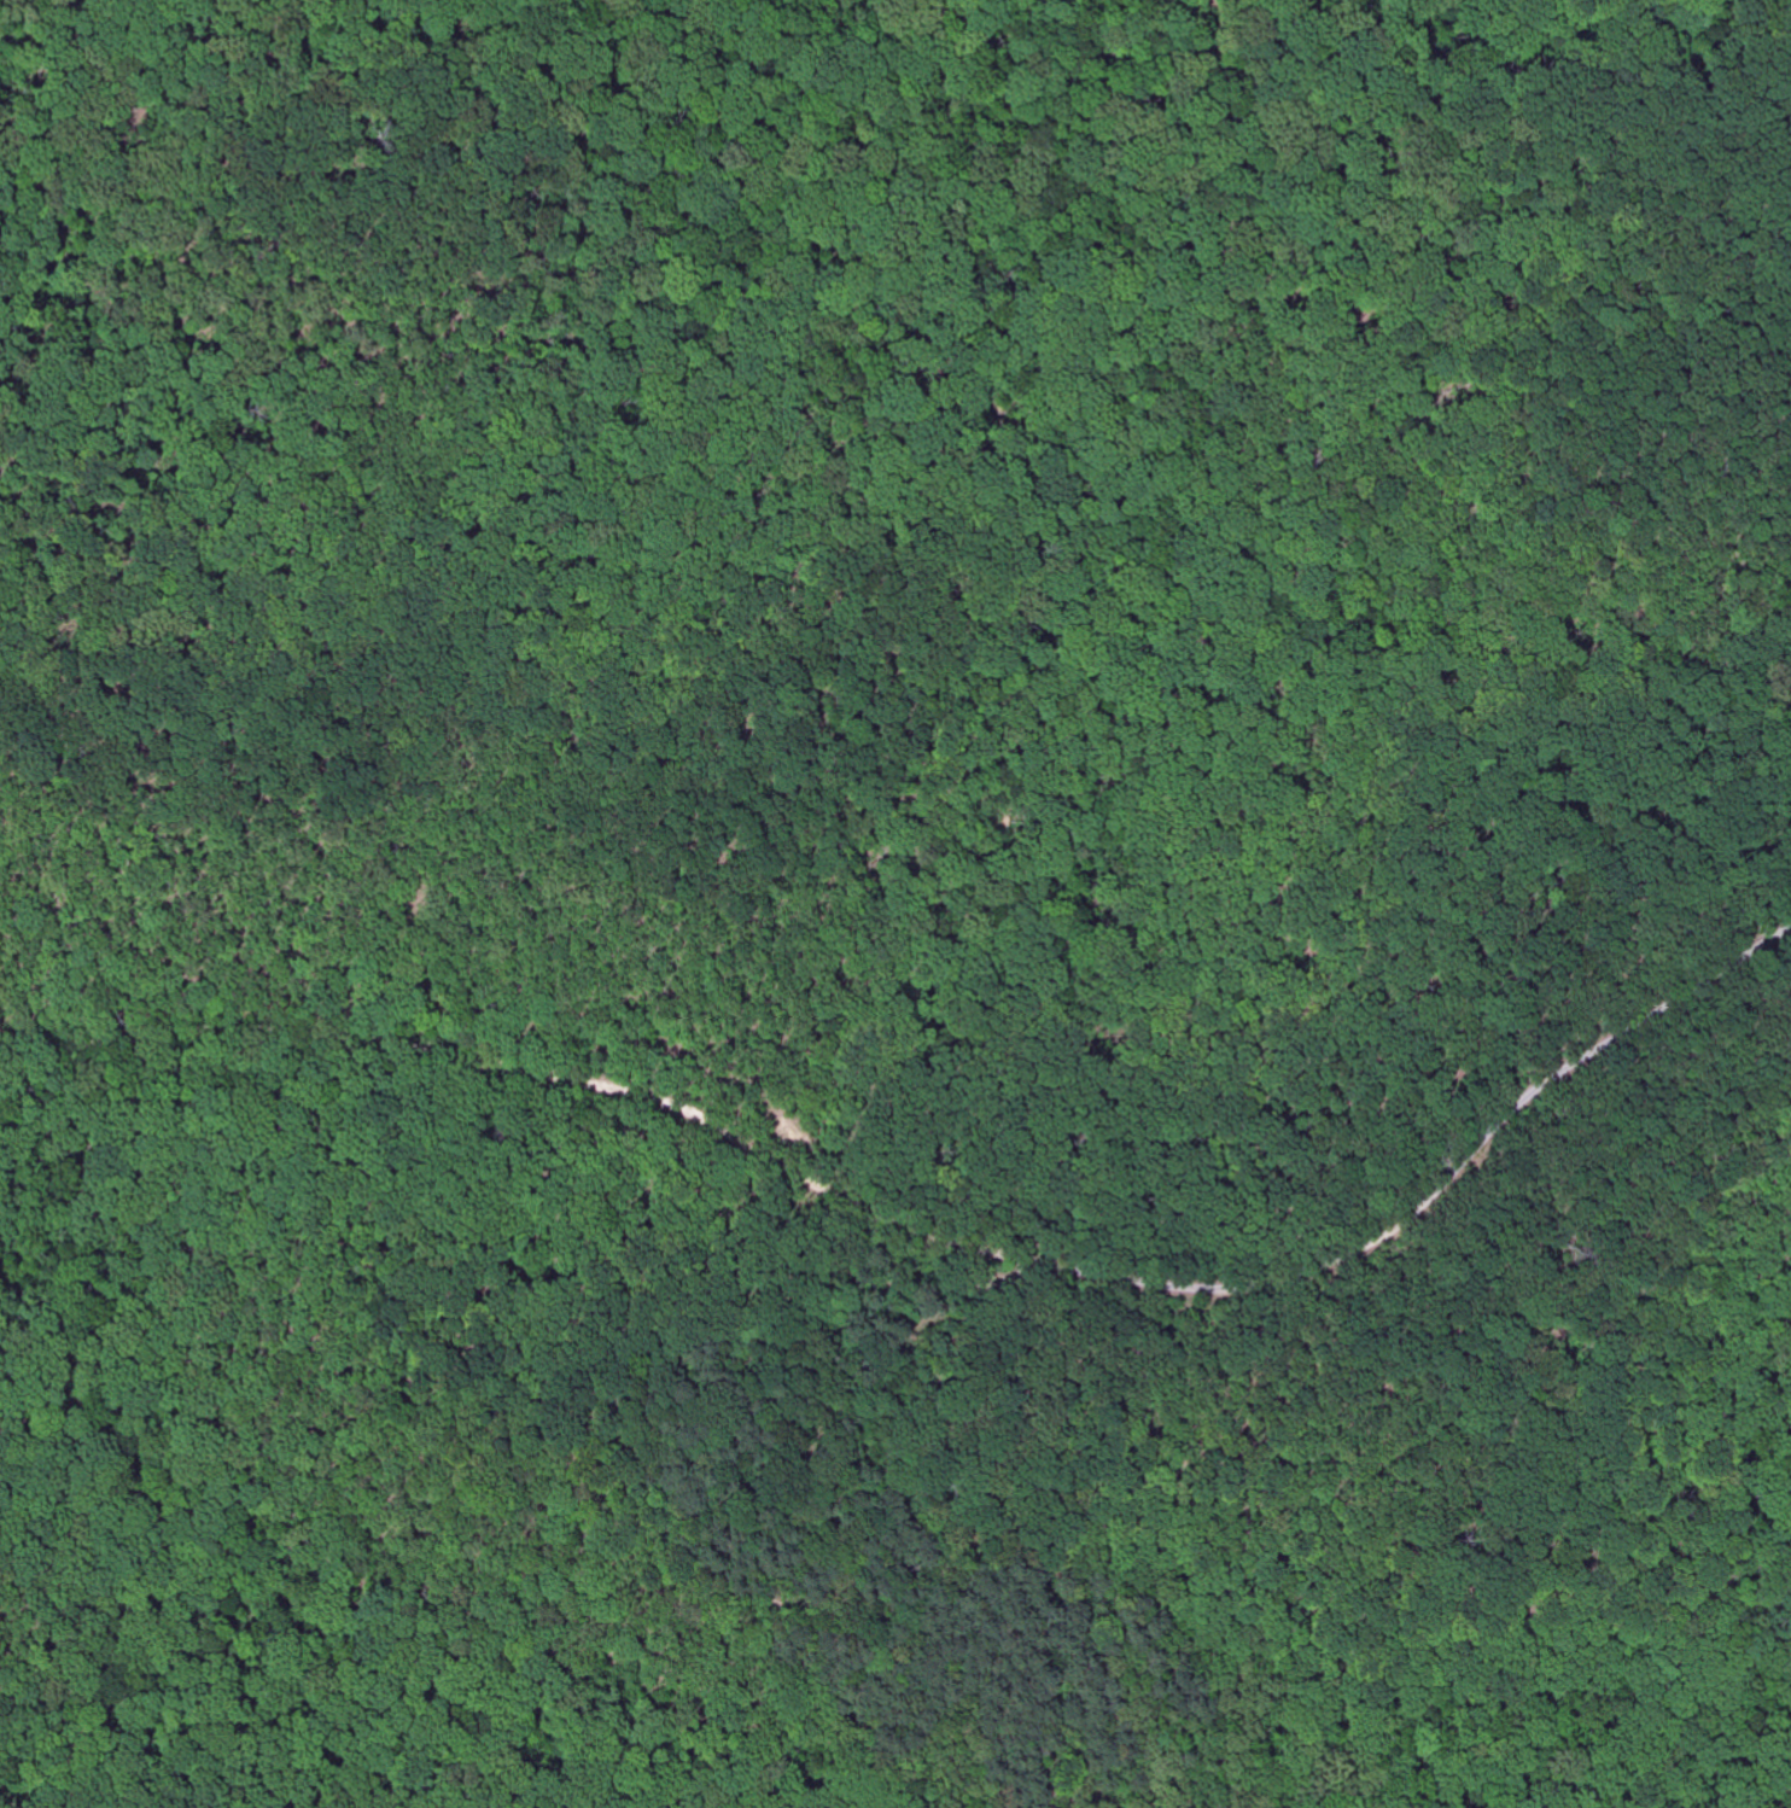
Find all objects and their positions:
road: (934, 1238)

